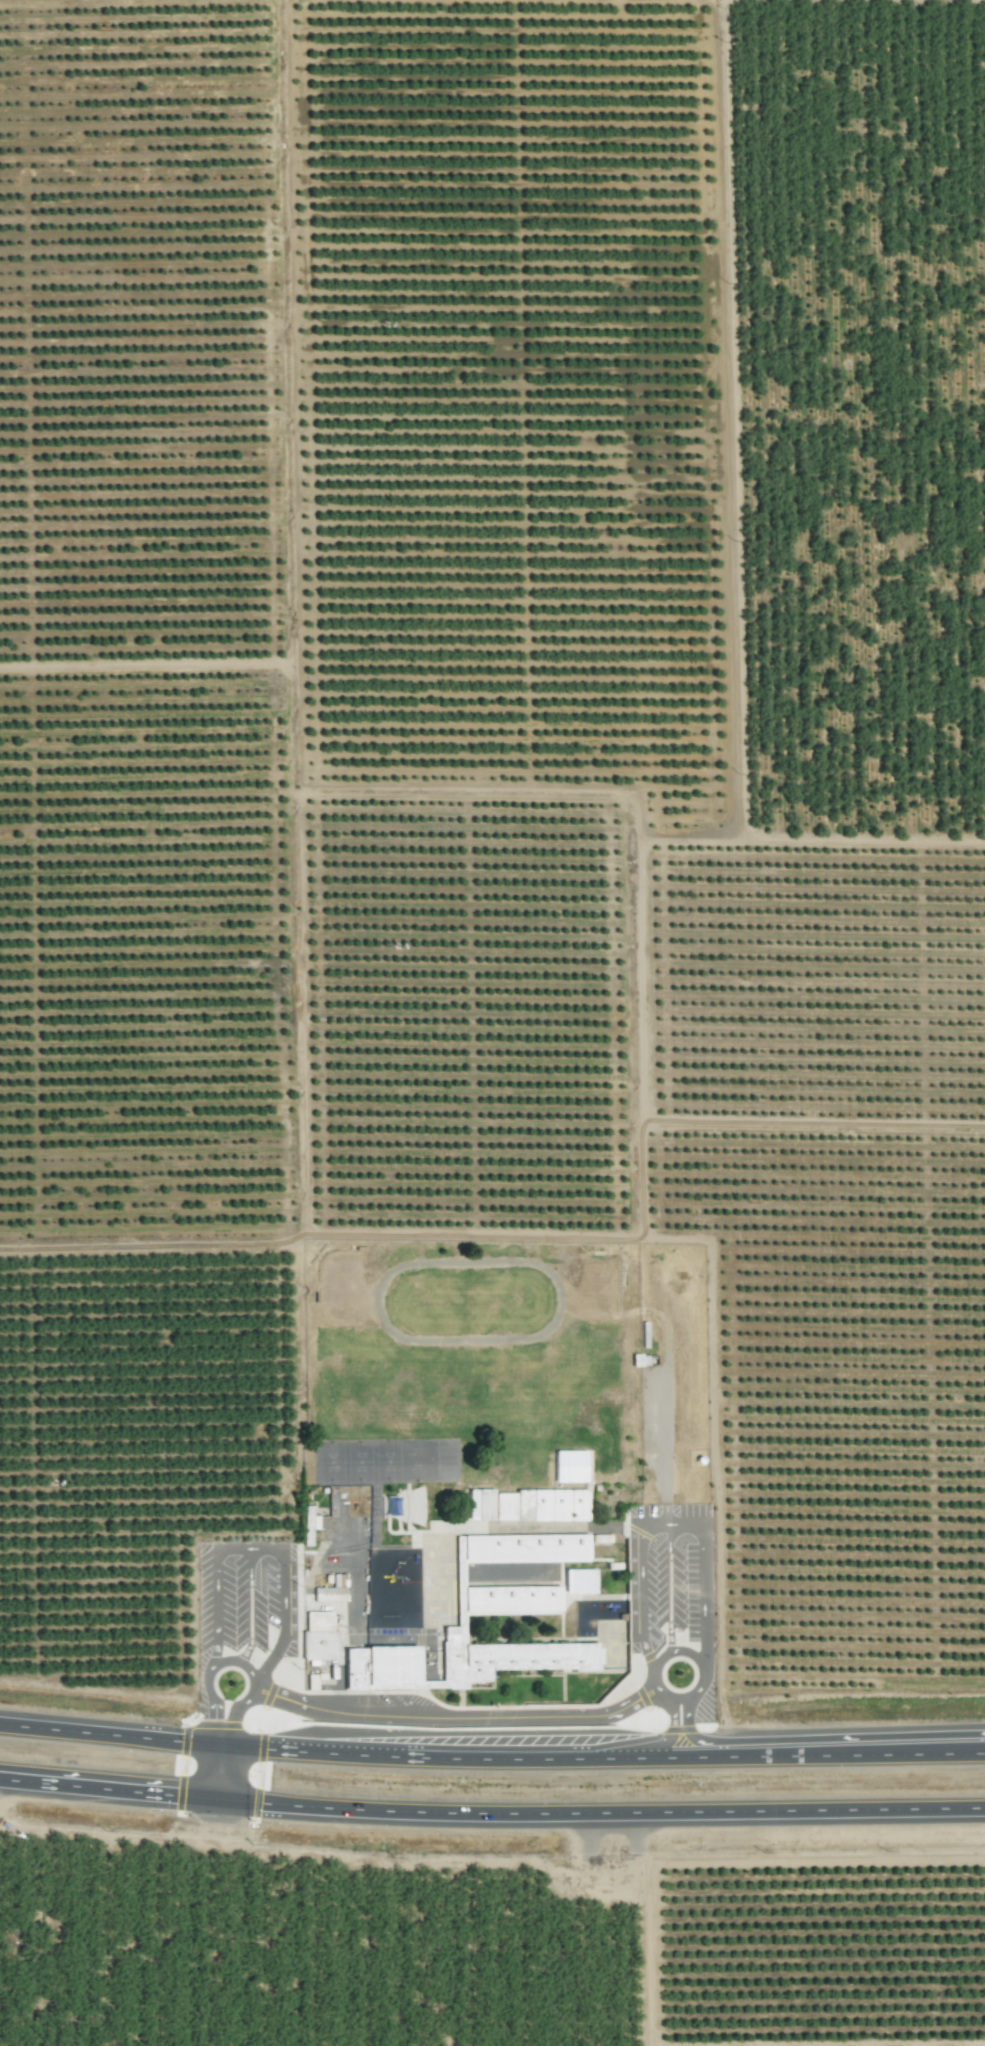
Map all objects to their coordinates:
crop: (494, 964)
building: (569, 1466)
building: (480, 1504)
building: (541, 1505)
road: (672, 1524)
building: (308, 1525)
road: (261, 1548)
building: (521, 1548)
building: (580, 1581)
road: (669, 1588)
building: (331, 1590)
road: (249, 1606)
building: (319, 1637)
building: (472, 1645)
road: (210, 1671)
road: (657, 1689)
road: (235, 1709)
road: (457, 1717)
road: (672, 1732)
road: (688, 1732)
traffic signals: (221, 1742)
road: (491, 1755)
road: (219, 1765)
traffic signals: (218, 1798)
road: (491, 1812)

